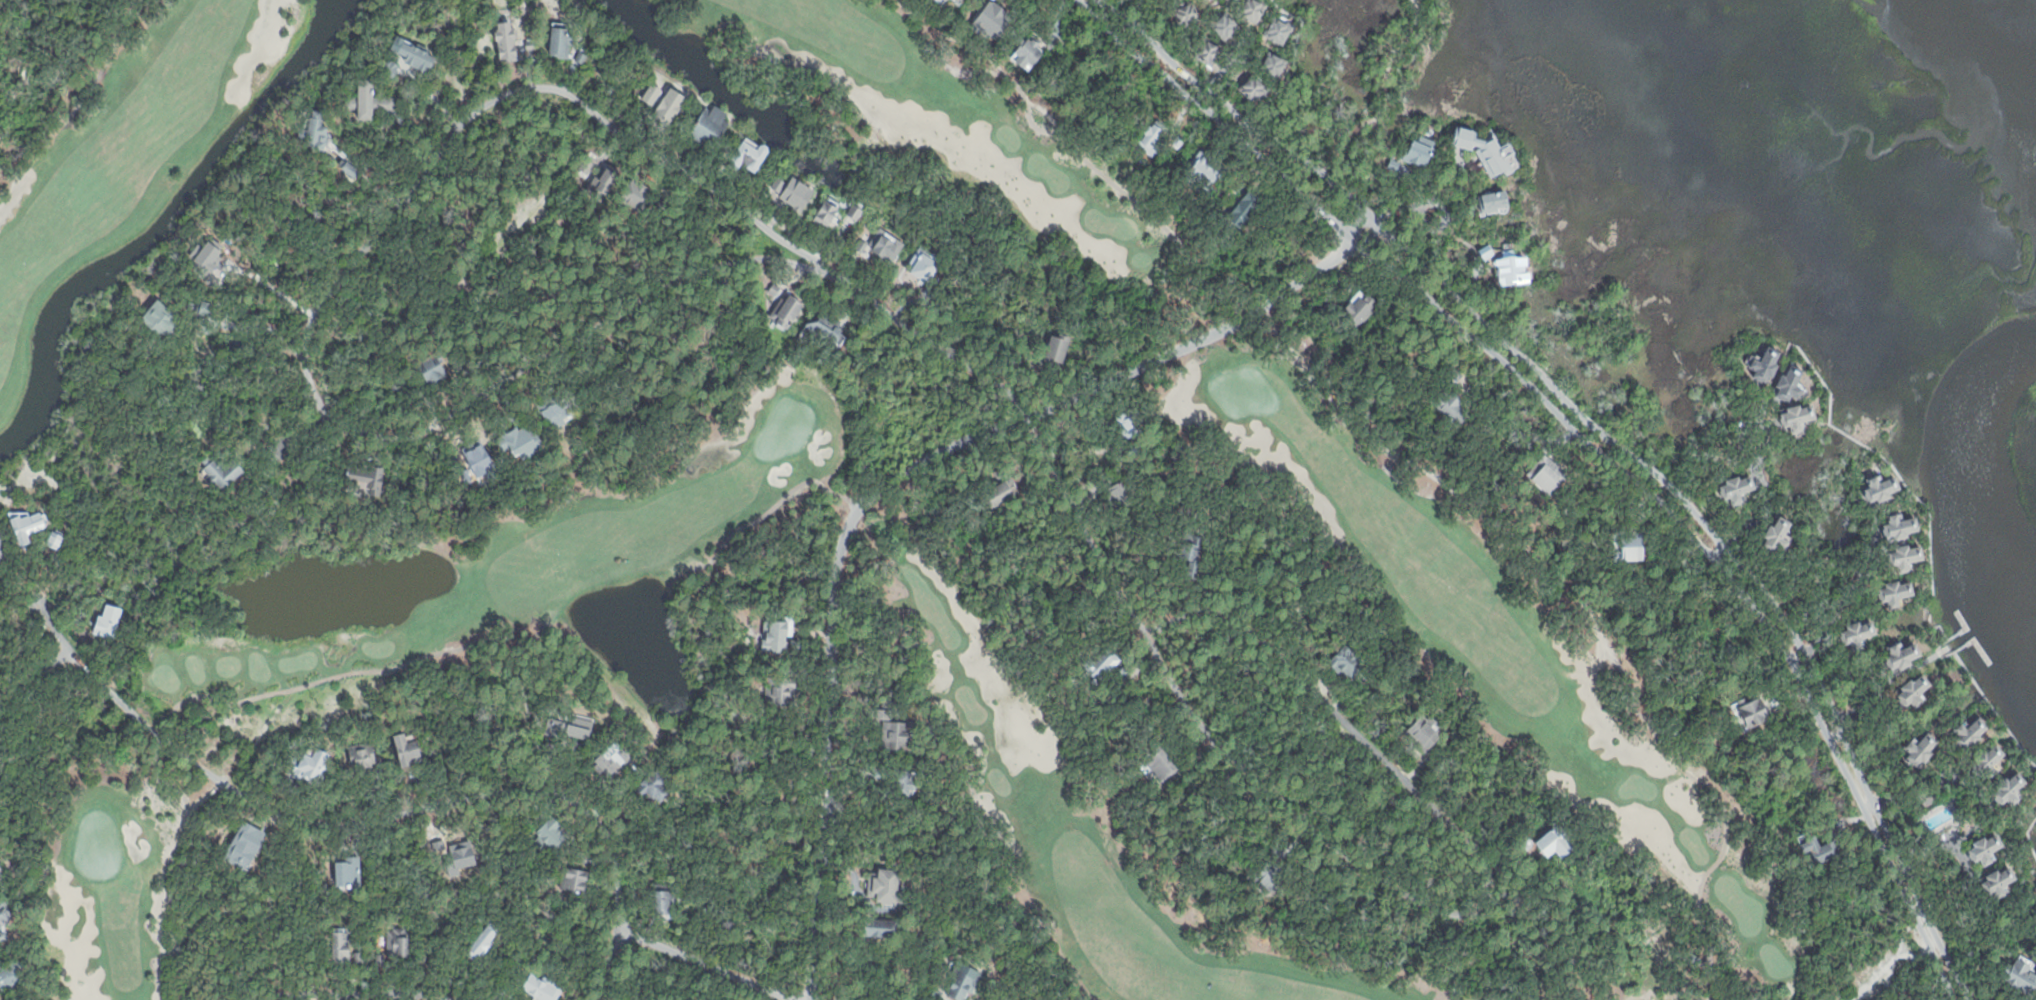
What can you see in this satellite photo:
building: (958, 0)
building: (1207, 0)
building: (941, 1)
building: (944, 1)
building: (1253, 11)
building: (1186, 14)
road: (1134, 23)
building: (1225, 26)
building: (1281, 30)
building: (505, 39)
building: (558, 43)
building: (531, 45)
building: (415, 52)
building: (1028, 53)
building: (1208, 54)
building: (579, 57)
building: (1275, 64)
building: (390, 67)
road: (1221, 85)
building: (1253, 91)
building: (650, 93)
building: (368, 101)
building: (668, 105)
building: (708, 128)
building: (314, 135)
building: (1150, 139)
building: (1490, 153)
building: (1414, 154)
building: (748, 155)
building: (1336, 156)
road: (427, 162)
building: (347, 168)
building: (1204, 170)
building: (639, 201)
building: (1491, 201)
building: (1245, 205)
building: (825, 212)
building: (854, 212)
road: (1444, 214)
road: (698, 221)
building: (884, 243)
building: (860, 244)
building: (1486, 251)
road: (771, 258)
building: (925, 267)
building: (1514, 268)
building: (773, 287)
building: (1360, 308)
building: (203, 309)
building: (785, 311)
building: (158, 318)
building: (822, 329)
building: (1056, 348)
building: (1031, 363)
building: (1766, 365)
building: (432, 371)
building: (1793, 383)
building: (1449, 402)
building: (554, 411)
building: (1797, 417)
building: (1129, 422)
road: (306, 432)
road: (1584, 435)
road: (1612, 438)
building: (520, 443)
road: (1892, 462)
road: (899, 471)
building: (218, 472)
building: (1546, 476)
building: (365, 480)
building: (1737, 489)
building: (1880, 489)
building: (1115, 490)
building: (998, 491)
road: (1766, 507)
building: (1901, 526)
building: (23, 527)
building: (1779, 535)
building: (0, 536)
building: (54, 539)
building: (1631, 546)
building: (1191, 556)
building: (1906, 560)
building: (1899, 593)
building: (106, 623)
building: (1858, 632)
building: (781, 636)
building: (1903, 656)
building: (1346, 661)
building: (1099, 668)
building: (1126, 669)
road: (34, 674)
building: (780, 691)
building: (1914, 691)
road: (1994, 709)
building: (1750, 712)
building: (555, 724)
building: (579, 727)
building: (1424, 731)
building: (894, 732)
building: (1972, 733)
building: (1923, 749)
building: (405, 750)
building: (360, 754)
building: (1990, 758)
building: (619, 761)
building: (1162, 761)
building: (310, 766)
building: (897, 782)
building: (652, 788)
building: (2009, 789)
road: (389, 817)
building: (1833, 827)
building: (547, 835)
road: (2024, 836)
building: (1557, 840)
building: (1524, 844)
building: (1989, 849)
building: (1822, 851)
building: (346, 872)
building: (1269, 877)
building: (575, 881)
building: (2000, 882)
road: (1399, 884)
building: (885, 888)
road: (2032, 900)
building: (664, 905)
building: (3, 918)
building: (879, 927)
building: (486, 940)
building: (398, 944)
building: (342, 945)
building: (379, 957)
road: (706, 966)
building: (10, 975)
building: (2021, 976)
building: (962, 980)
building: (541, 986)
road: (394, 991)
road: (320, 994)

